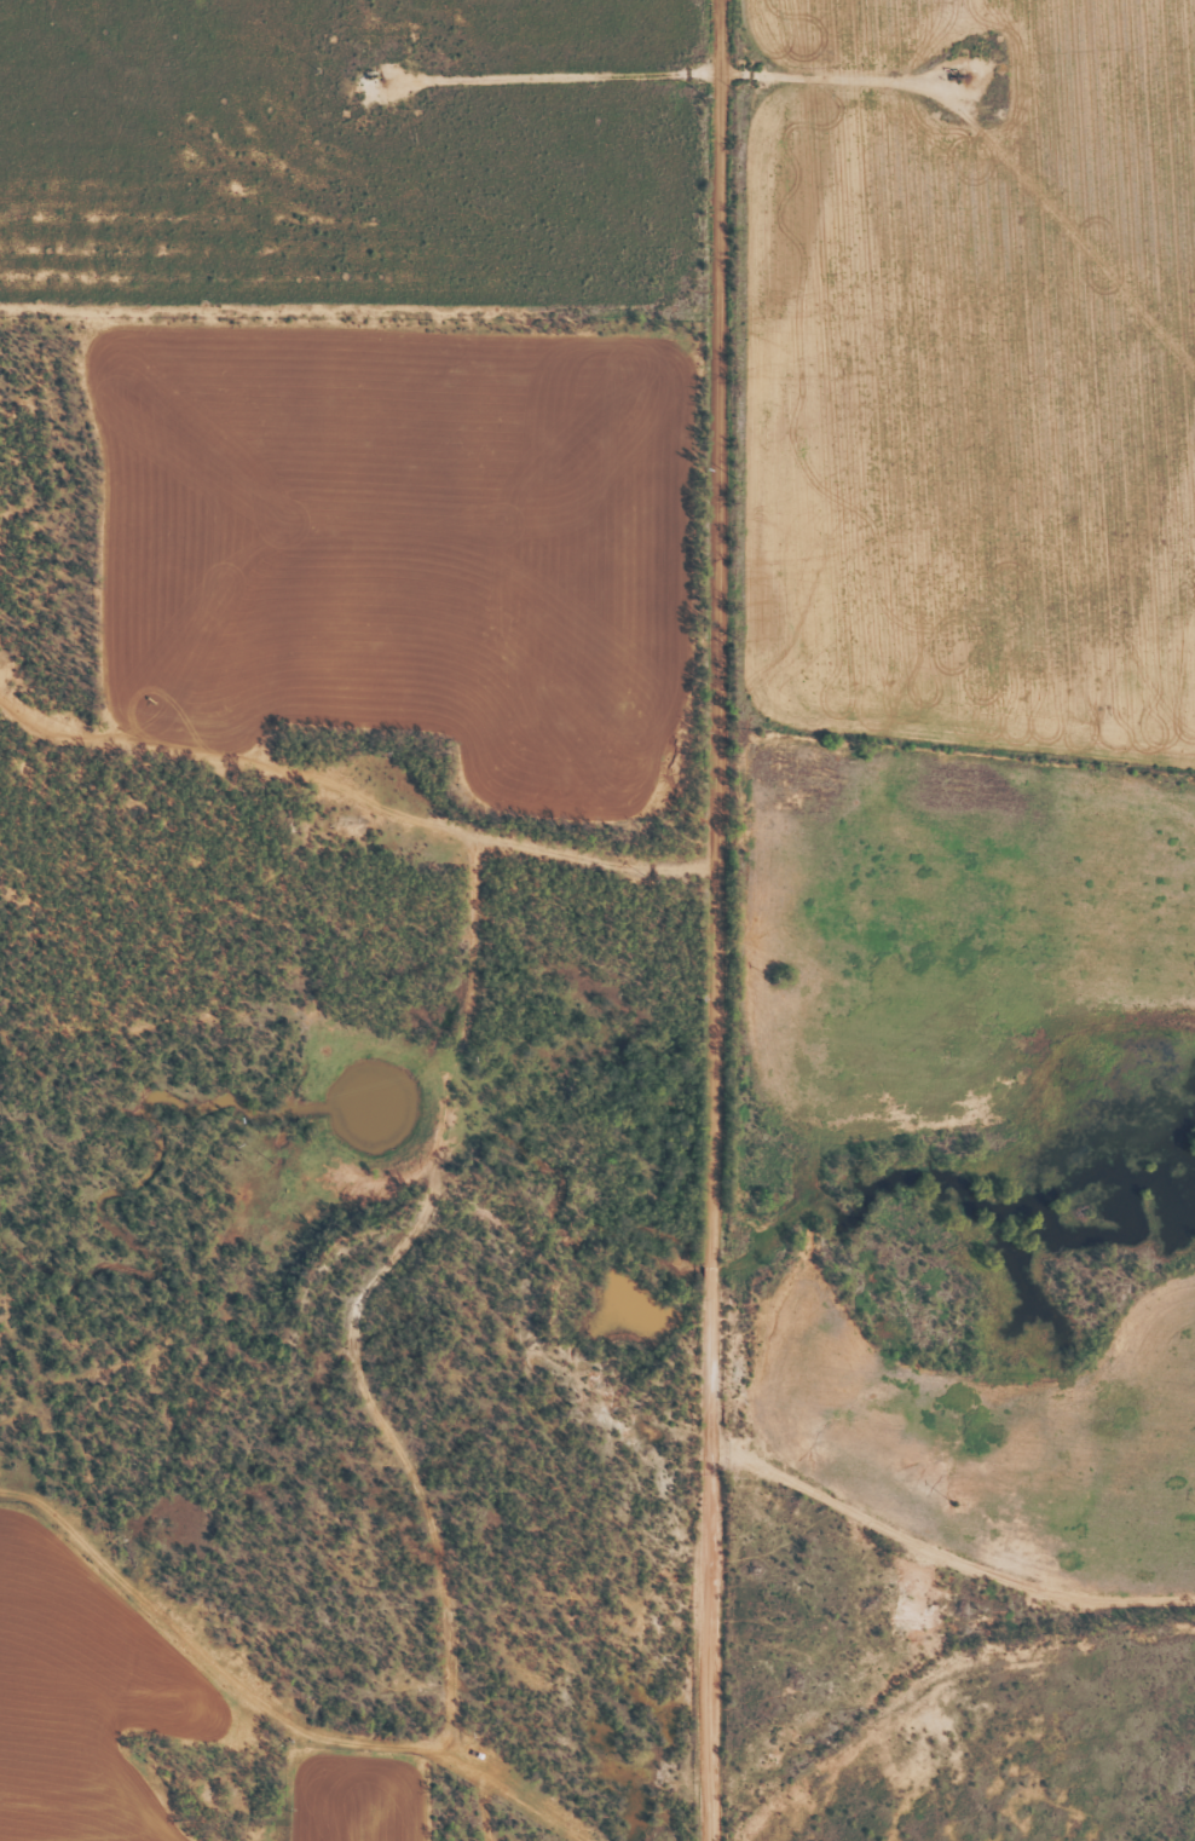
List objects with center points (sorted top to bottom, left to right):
road: (749, 921)
road: (1038, 1685)

